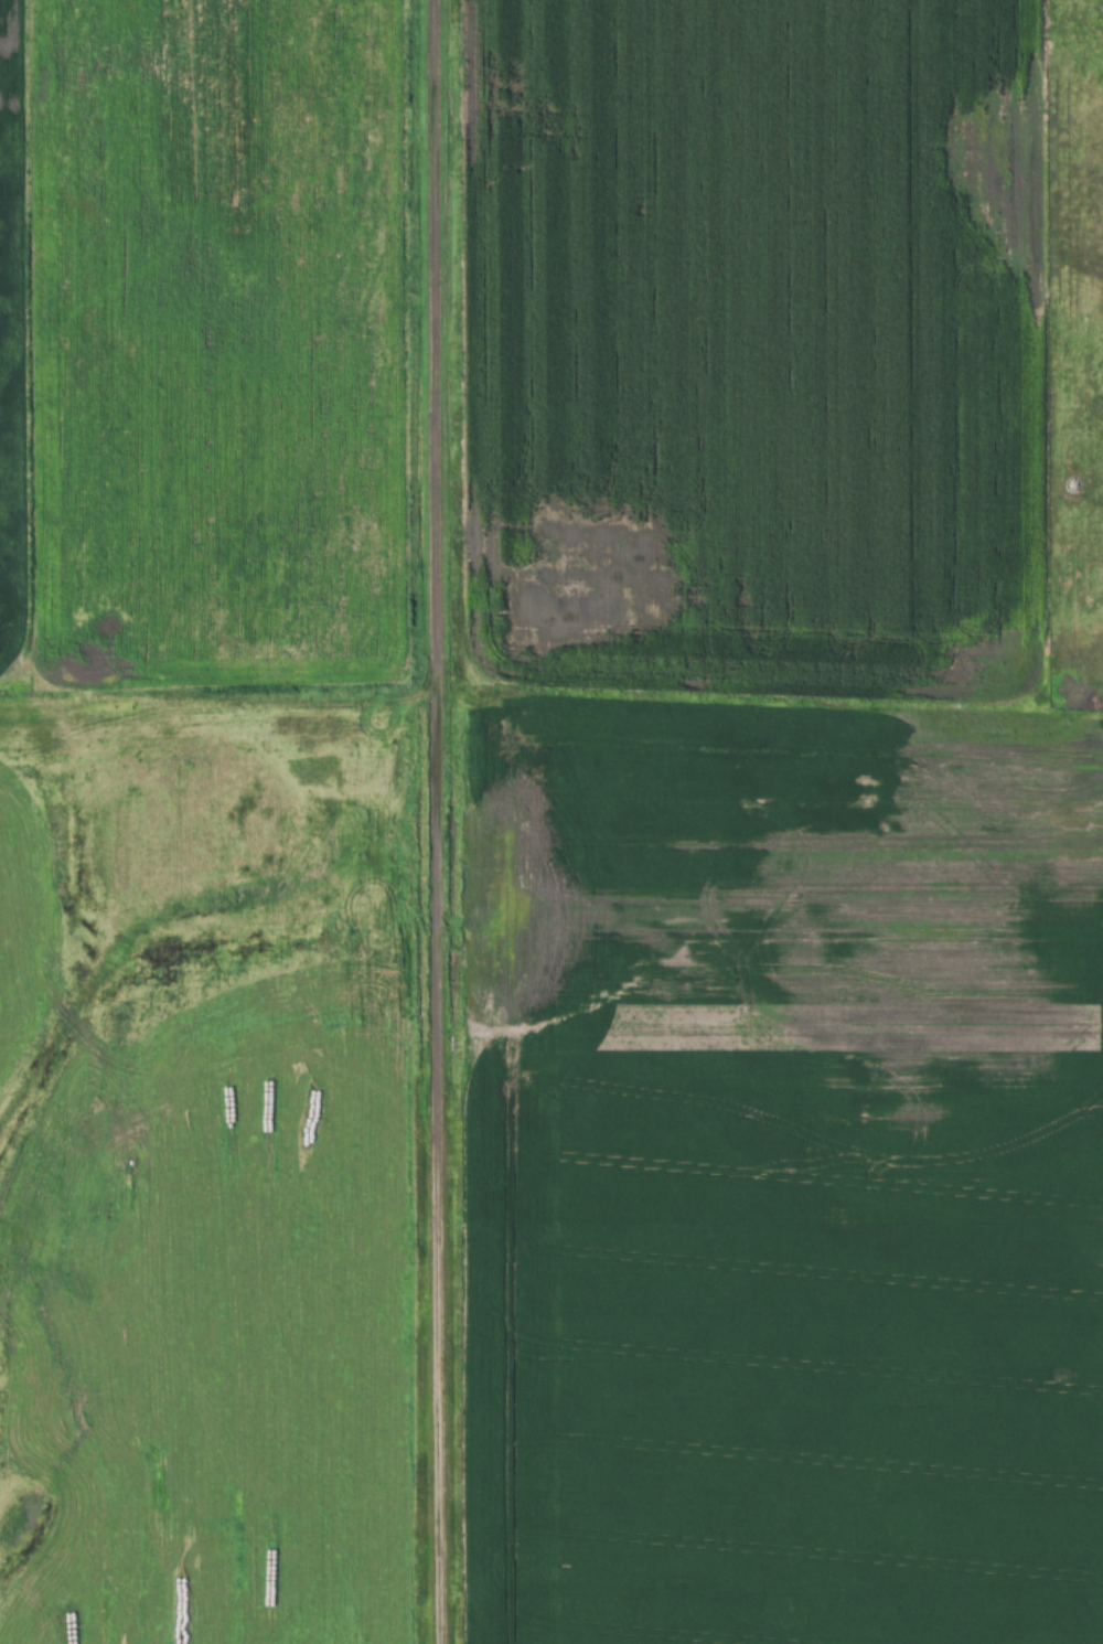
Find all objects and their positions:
road: (437, 822)

